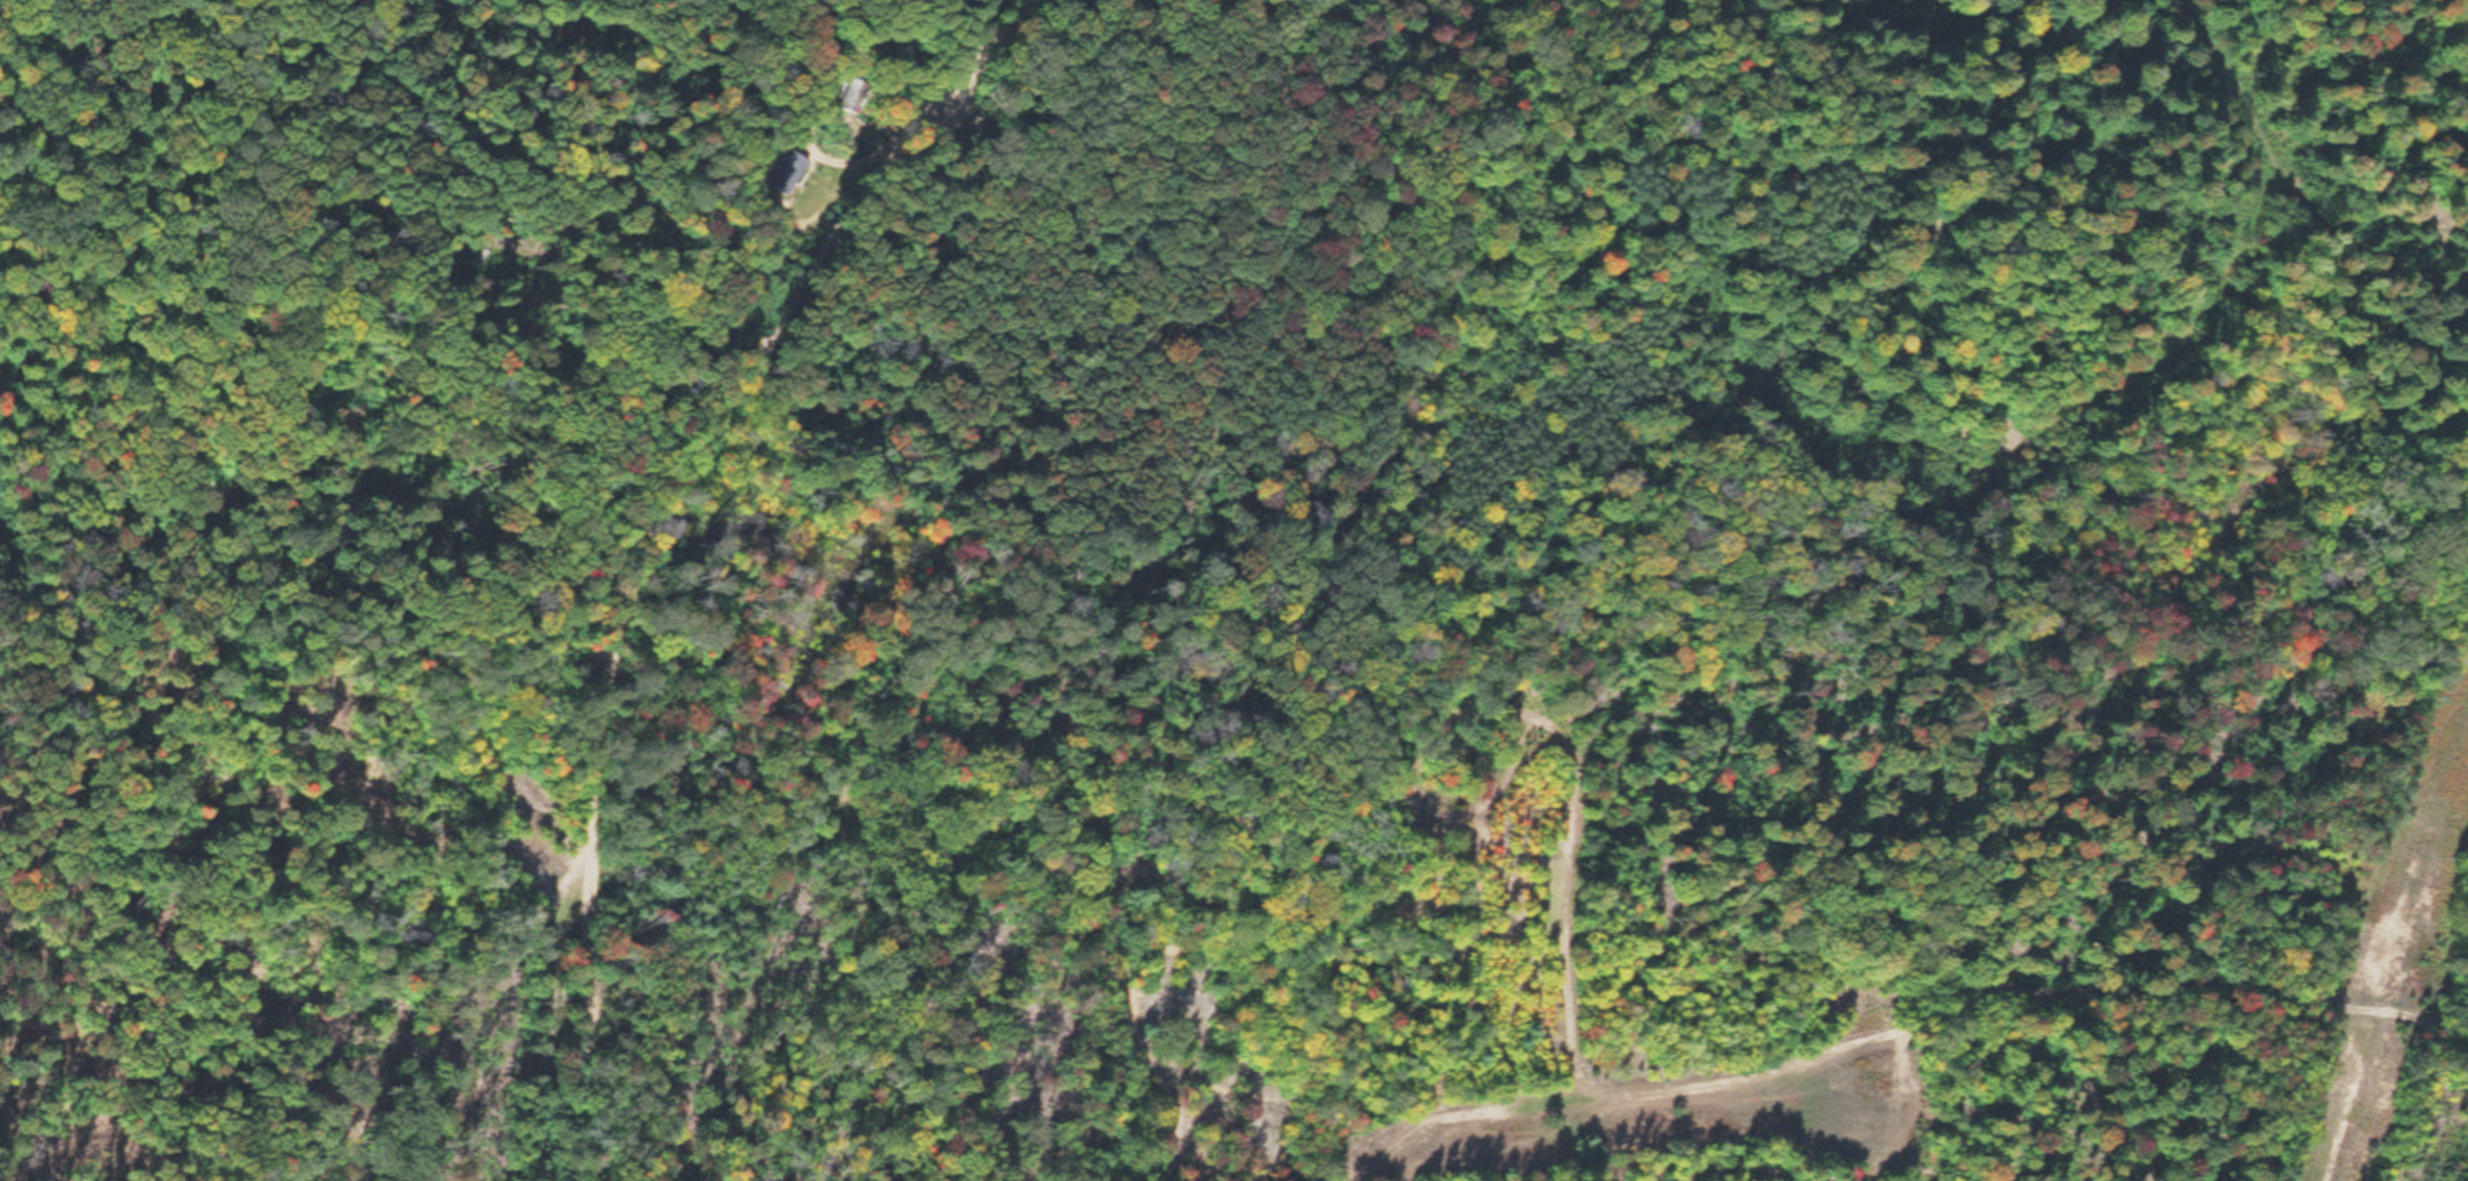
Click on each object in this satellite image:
building: (787, 167)
road: (2296, 184)
road: (769, 361)
road: (594, 977)
road: (1443, 1114)

